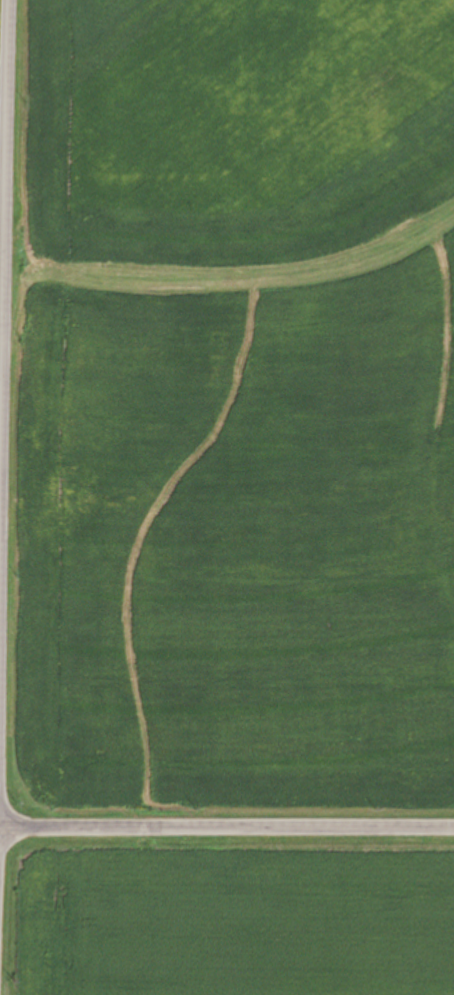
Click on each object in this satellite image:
road: (2, 182)
road: (227, 827)

